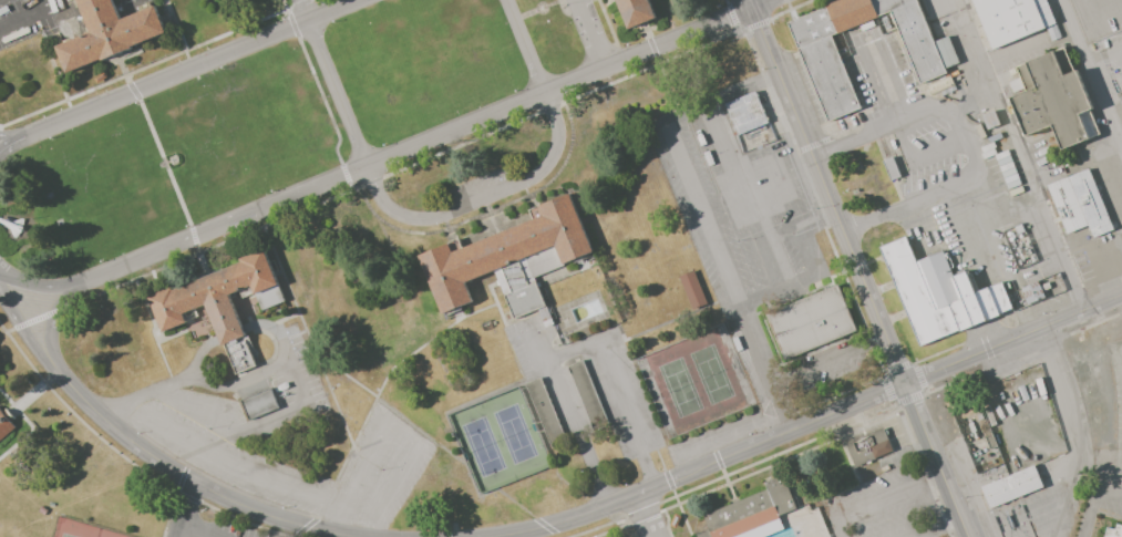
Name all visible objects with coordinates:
road: (749, 2)
road: (758, 2)
parking lot: (17, 7)
road: (302, 11)
building: (636, 13)
building: (1012, 17)
road: (31, 18)
road: (1092, 23)
building: (109, 33)
road: (590, 33)
road: (526, 47)
building: (945, 51)
building: (819, 53)
road: (969, 61)
building: (1063, 62)
road: (178, 74)
road: (1090, 74)
building: (1026, 78)
building: (1015, 85)
road: (883, 86)
road: (338, 95)
building: (1052, 102)
building: (754, 123)
building: (1089, 124)
parking lot: (928, 133)
road: (10, 136)
road: (1013, 137)
road: (964, 138)
road: (378, 164)
road: (165, 166)
building: (888, 167)
road: (827, 194)
road: (483, 197)
building: (1080, 200)
road: (1038, 206)
building: (507, 257)
building: (1099, 260)
building: (694, 286)
building: (940, 287)
building: (222, 302)
road: (7, 309)
building: (807, 317)
road: (50, 337)
road: (28, 340)
road: (569, 351)
park: (713, 376)
park: (681, 389)
building: (588, 395)
building: (259, 404)
building: (545, 412)
building: (385, 417)
road: (814, 419)
building: (6, 422)
park: (516, 435)
road: (400, 440)
building: (868, 445)
park: (485, 448)
road: (1074, 454)
road: (935, 459)
road: (229, 464)
road: (199, 487)
building: (1013, 489)
road: (1092, 502)
building: (51, 503)
road: (864, 505)
building: (42, 510)
road: (184, 510)
building: (753, 512)
road: (646, 515)
road: (195, 530)
road: (925, 533)
building: (1114, 533)
park: (68, 536)

